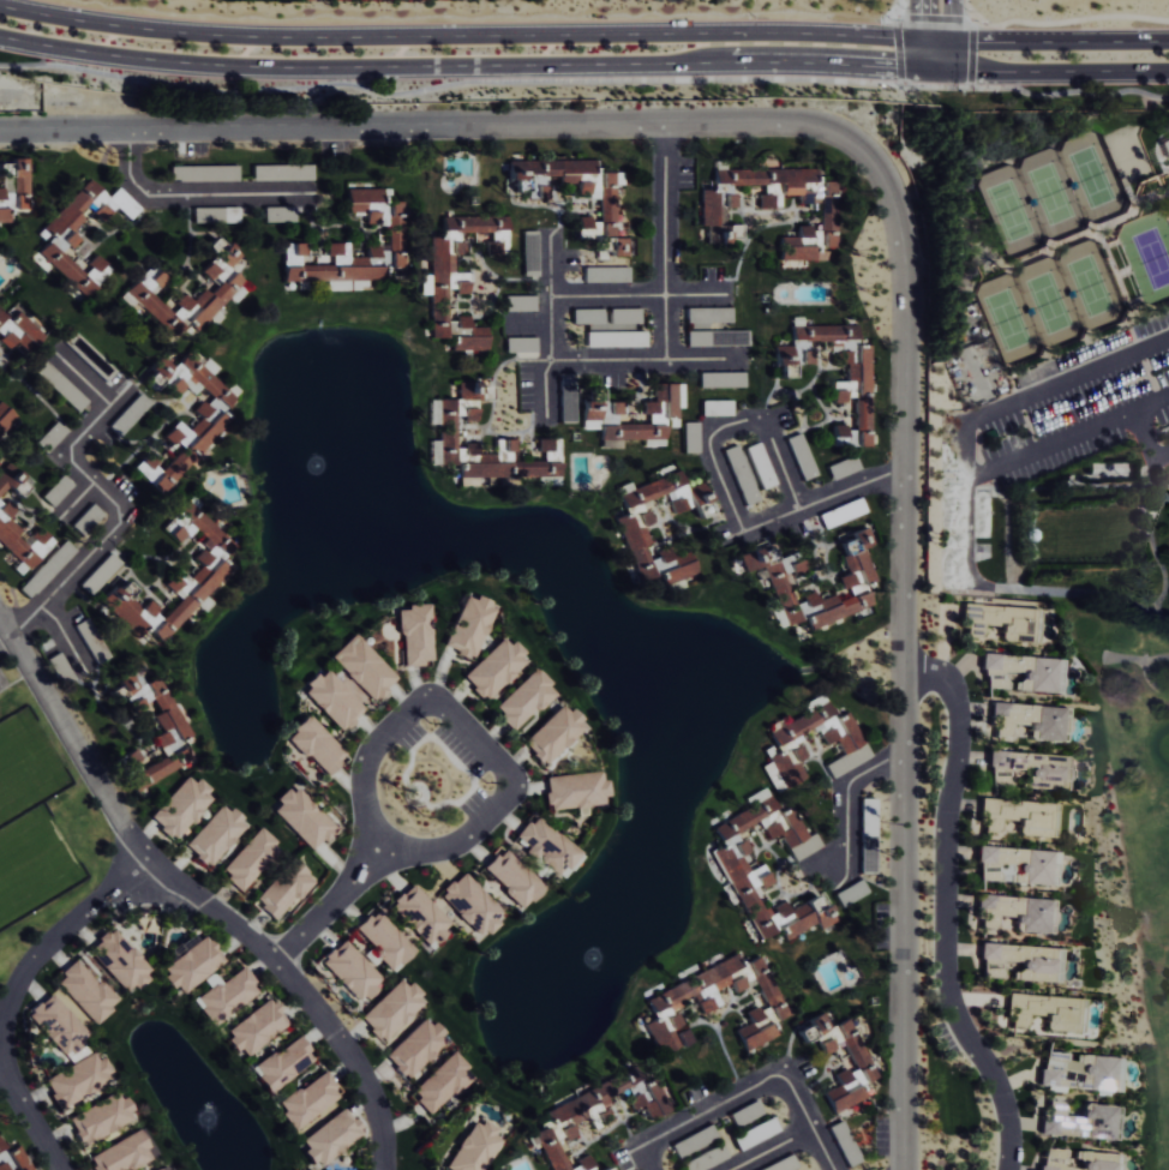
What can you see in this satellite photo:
road: (936, 16)
road: (921, 34)
road: (952, 34)
road: (446, 35)
road: (936, 40)
road: (1072, 41)
road: (898, 49)
road: (976, 52)
road: (449, 65)
road: (939, 68)
road: (1073, 70)
road: (939, 85)
road: (400, 128)
building: (1165, 146)
building: (204, 173)
building: (287, 175)
building: (13, 187)
park: (1050, 193)
building: (606, 196)
road: (193, 198)
building: (772, 206)
building: (223, 214)
building: (277, 215)
building: (394, 233)
building: (73, 241)
building: (611, 247)
park: (1147, 256)
road: (665, 268)
building: (440, 271)
building: (606, 274)
building: (226, 284)
building: (520, 302)
park: (1050, 304)
building: (709, 314)
building: (588, 316)
building: (625, 316)
building: (18, 331)
building: (718, 337)
building: (520, 344)
road: (611, 361)
building: (55, 379)
building: (862, 389)
building: (838, 394)
road: (1001, 407)
building: (598, 416)
building: (6, 419)
road: (756, 419)
building: (212, 421)
building: (690, 437)
road: (1068, 438)
road: (1147, 442)
building: (548, 449)
building: (737, 464)
fountain: (313, 466)
building: (7, 476)
road: (104, 490)
building: (634, 534)
building: (22, 538)
building: (14, 563)
building: (47, 569)
building: (774, 577)
building: (175, 578)
road: (1066, 590)
road: (903, 620)
building: (1001, 622)
building: (469, 626)
road: (4, 632)
building: (415, 635)
road: (61, 636)
building: (364, 667)
building: (494, 667)
building: (1027, 671)
building: (332, 700)
building: (524, 700)
building: (1029, 720)
building: (170, 724)
building: (553, 734)
building: (317, 745)
park: (26, 767)
building: (1030, 769)
road: (510, 791)
building: (575, 791)
building: (181, 806)
road: (845, 806)
building: (1020, 816)
building: (304, 817)
building: (869, 826)
building: (215, 835)
park: (1131, 840)
building: (545, 847)
building: (250, 859)
park: (35, 864)
building: (735, 864)
building: (1018, 866)
building: (512, 878)
building: (283, 889)
road: (196, 895)
building: (472, 906)
road: (946, 908)
building: (1017, 913)
building: (419, 916)
building: (383, 940)
road: (50, 944)
fountain: (582, 950)
building: (119, 962)
building: (191, 962)
building: (1021, 962)
building: (350, 971)
building: (85, 991)
building: (224, 995)
building: (717, 1004)
building: (391, 1009)
building: (1047, 1012)
building: (56, 1024)
building: (254, 1027)
building: (415, 1048)
building: (841, 1060)
building: (282, 1064)
road: (767, 1079)
building: (77, 1080)
building: (440, 1082)
building: (1056, 1096)
building: (308, 1100)
fountain: (204, 1114)
road: (28, 1115)
building: (100, 1118)
building: (562, 1124)
building: (330, 1138)
building: (474, 1147)
road: (822, 1151)
building: (120, 1154)
building: (12, 1159)
building: (706, 1159)
building: (1078, 1160)
building: (583, 1164)
building: (163, 1169)
building: (607, 1169)

